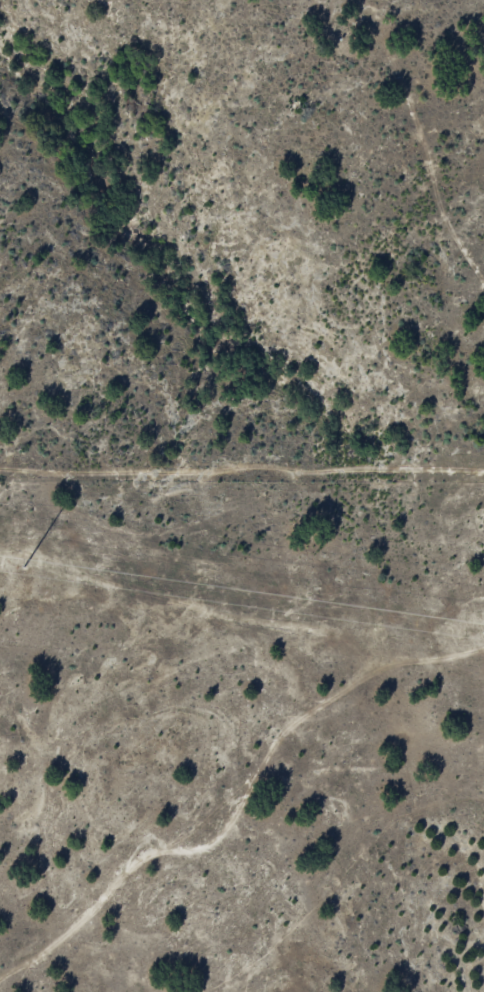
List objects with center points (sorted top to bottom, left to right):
power tower: (14, 566)
power tower: (476, 633)
road: (245, 795)

